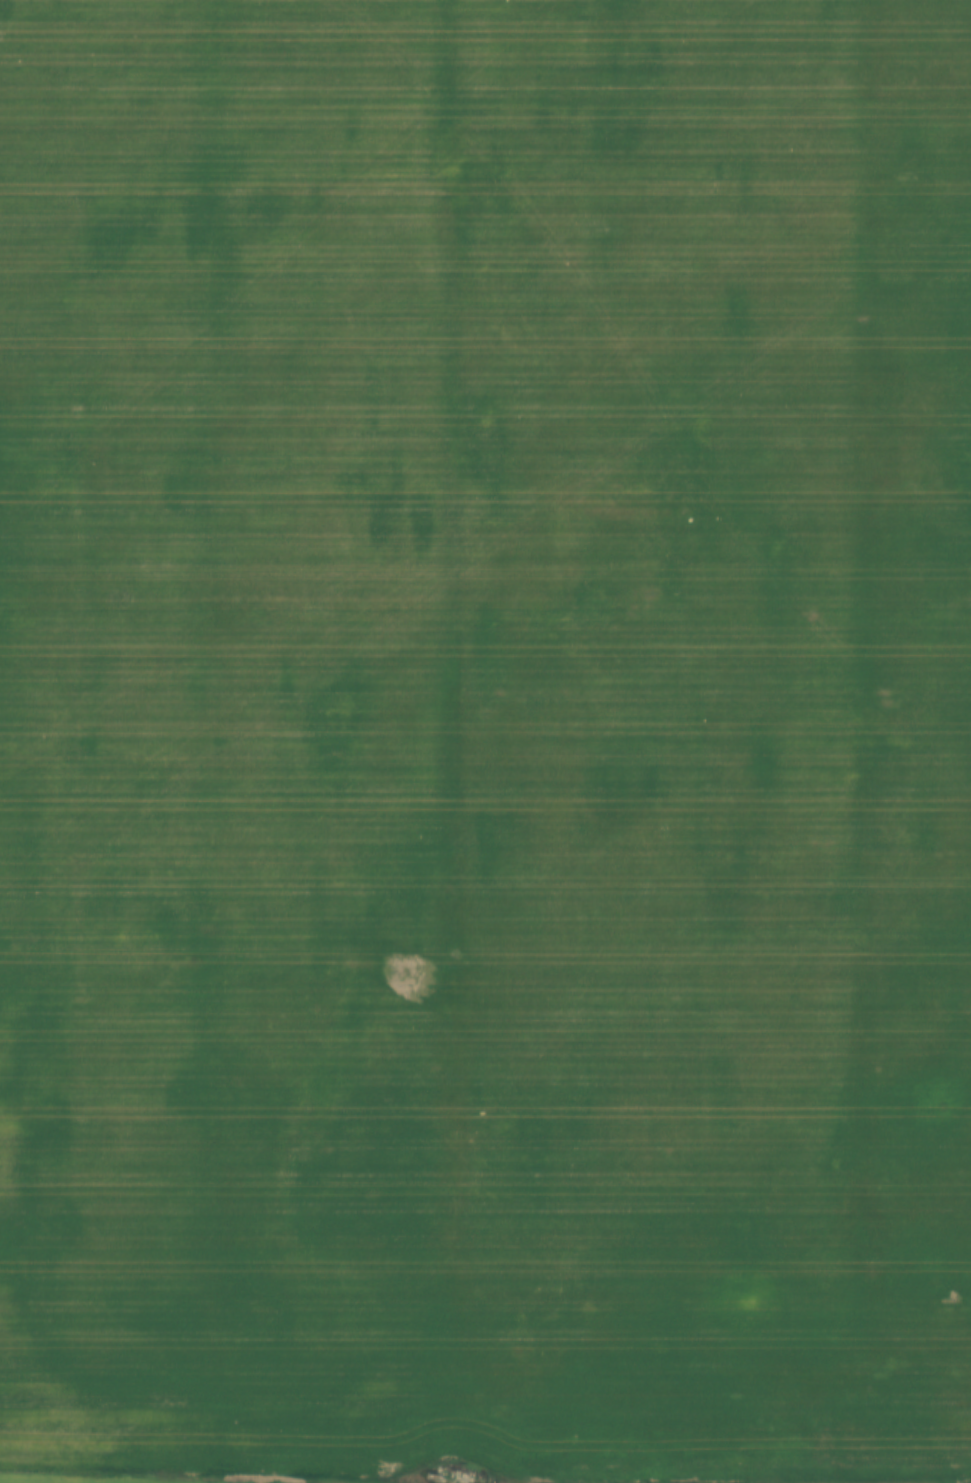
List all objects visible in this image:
road: (181, 1473)

